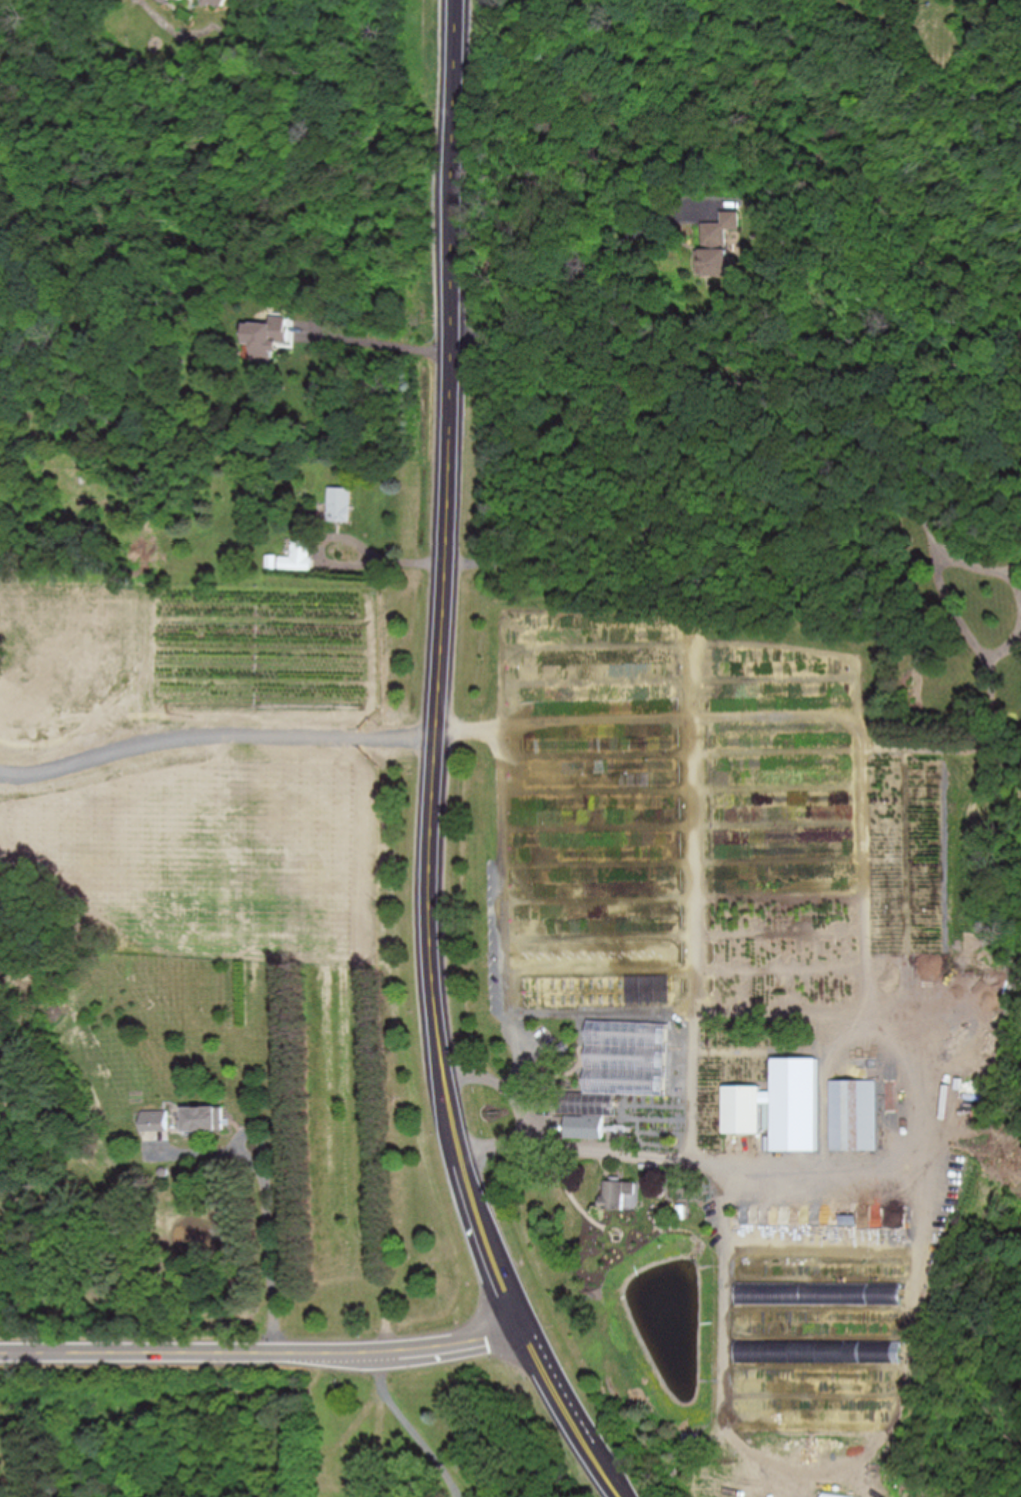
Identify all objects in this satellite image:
building: (727, 243)
building: (269, 338)
road: (377, 338)
building: (342, 503)
building: (297, 556)
road: (707, 568)
road: (968, 606)
road: (438, 769)
building: (981, 1101)
building: (744, 1108)
building: (794, 1109)
building: (855, 1114)
road: (533, 1116)
building: (206, 1118)
building: (155, 1119)
building: (586, 1126)
building: (622, 1194)
road: (270, 1241)
road: (262, 1348)
road: (378, 1416)
road: (406, 1426)

